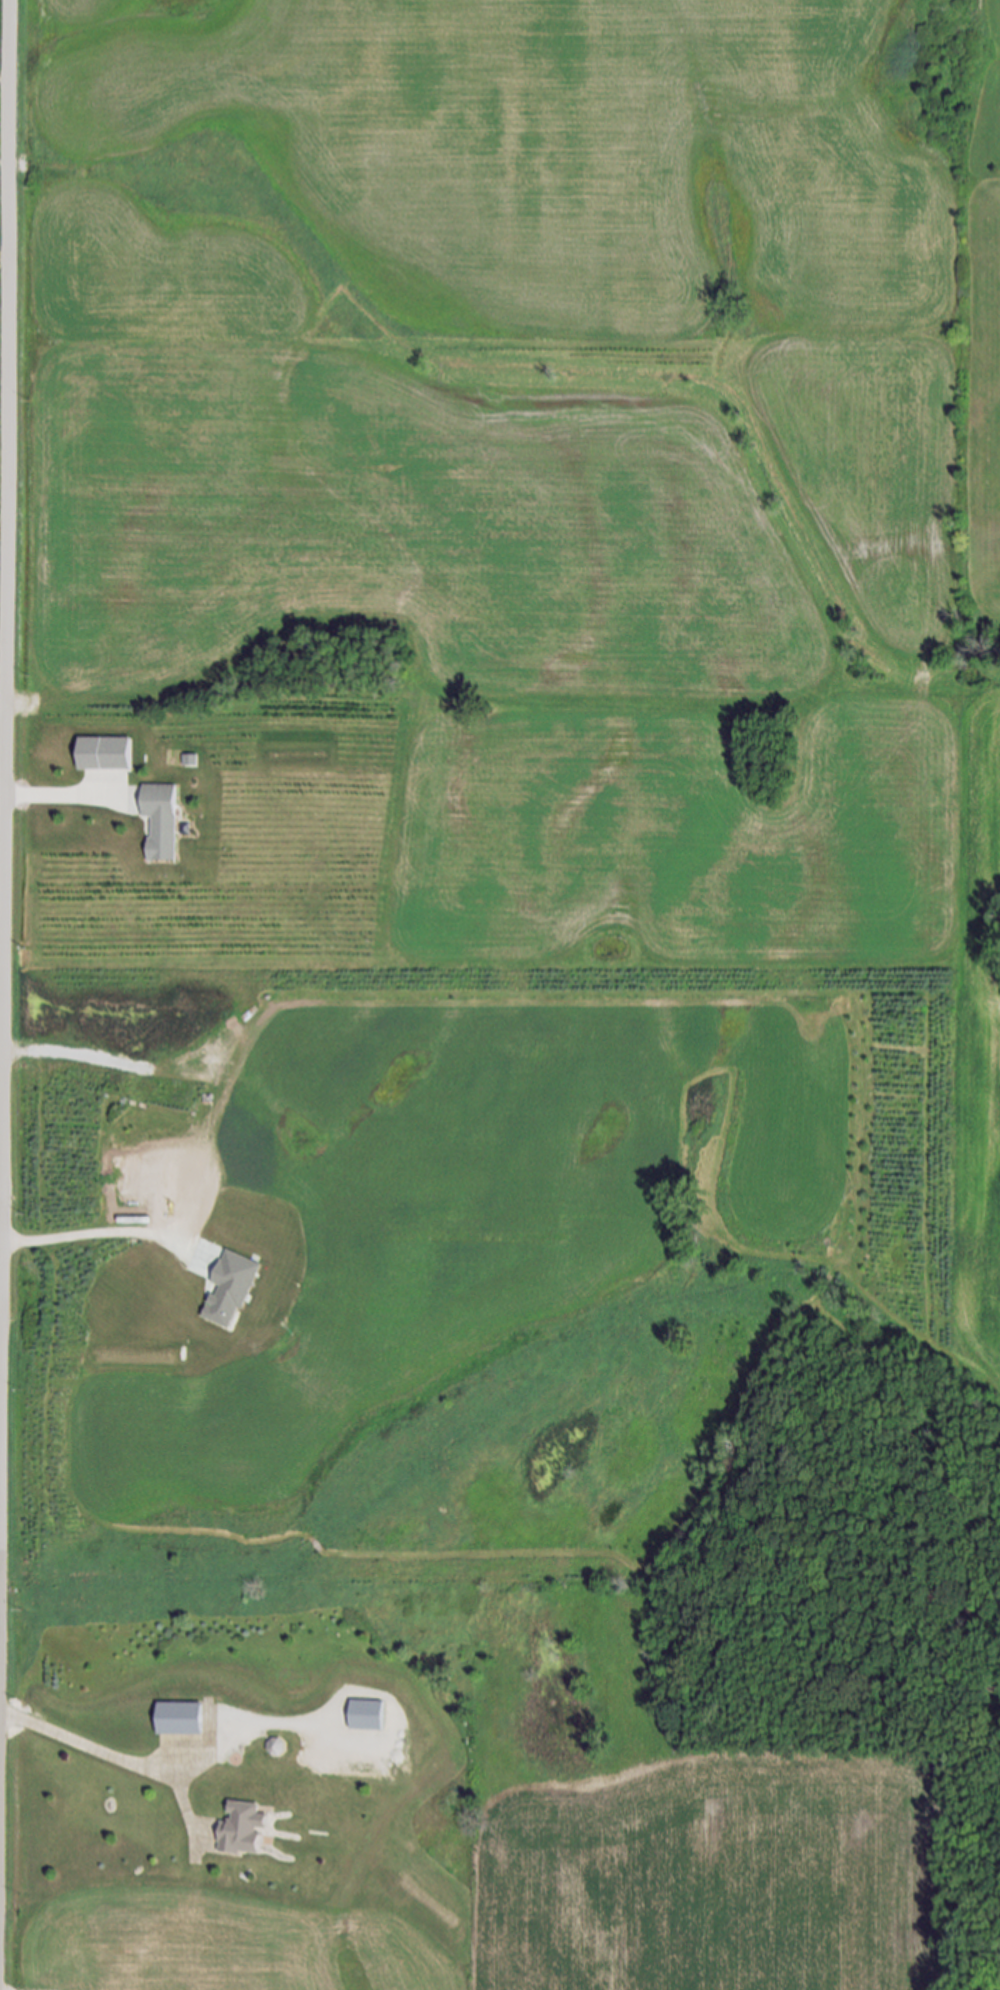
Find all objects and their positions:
road: (5, 546)
crop: (542, 658)
building: (106, 752)
road: (58, 797)
building: (158, 822)
road: (102, 1242)
building: (231, 1289)
building: (183, 1717)
building: (364, 1717)
building: (277, 1746)
road: (102, 1755)
building: (245, 1830)
crop: (567, 1892)

